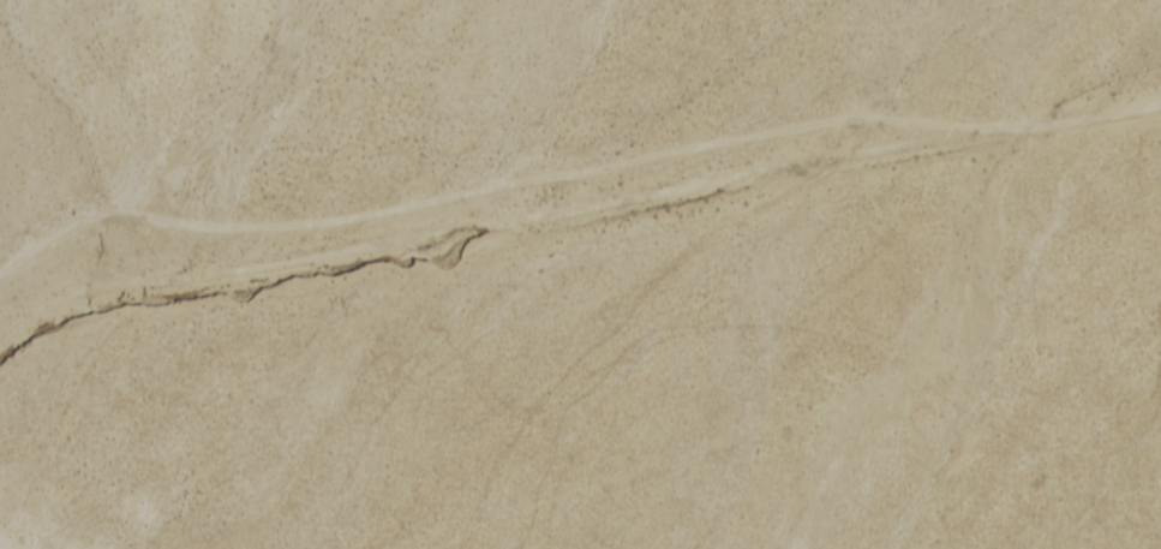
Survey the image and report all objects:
road: (557, 239)

